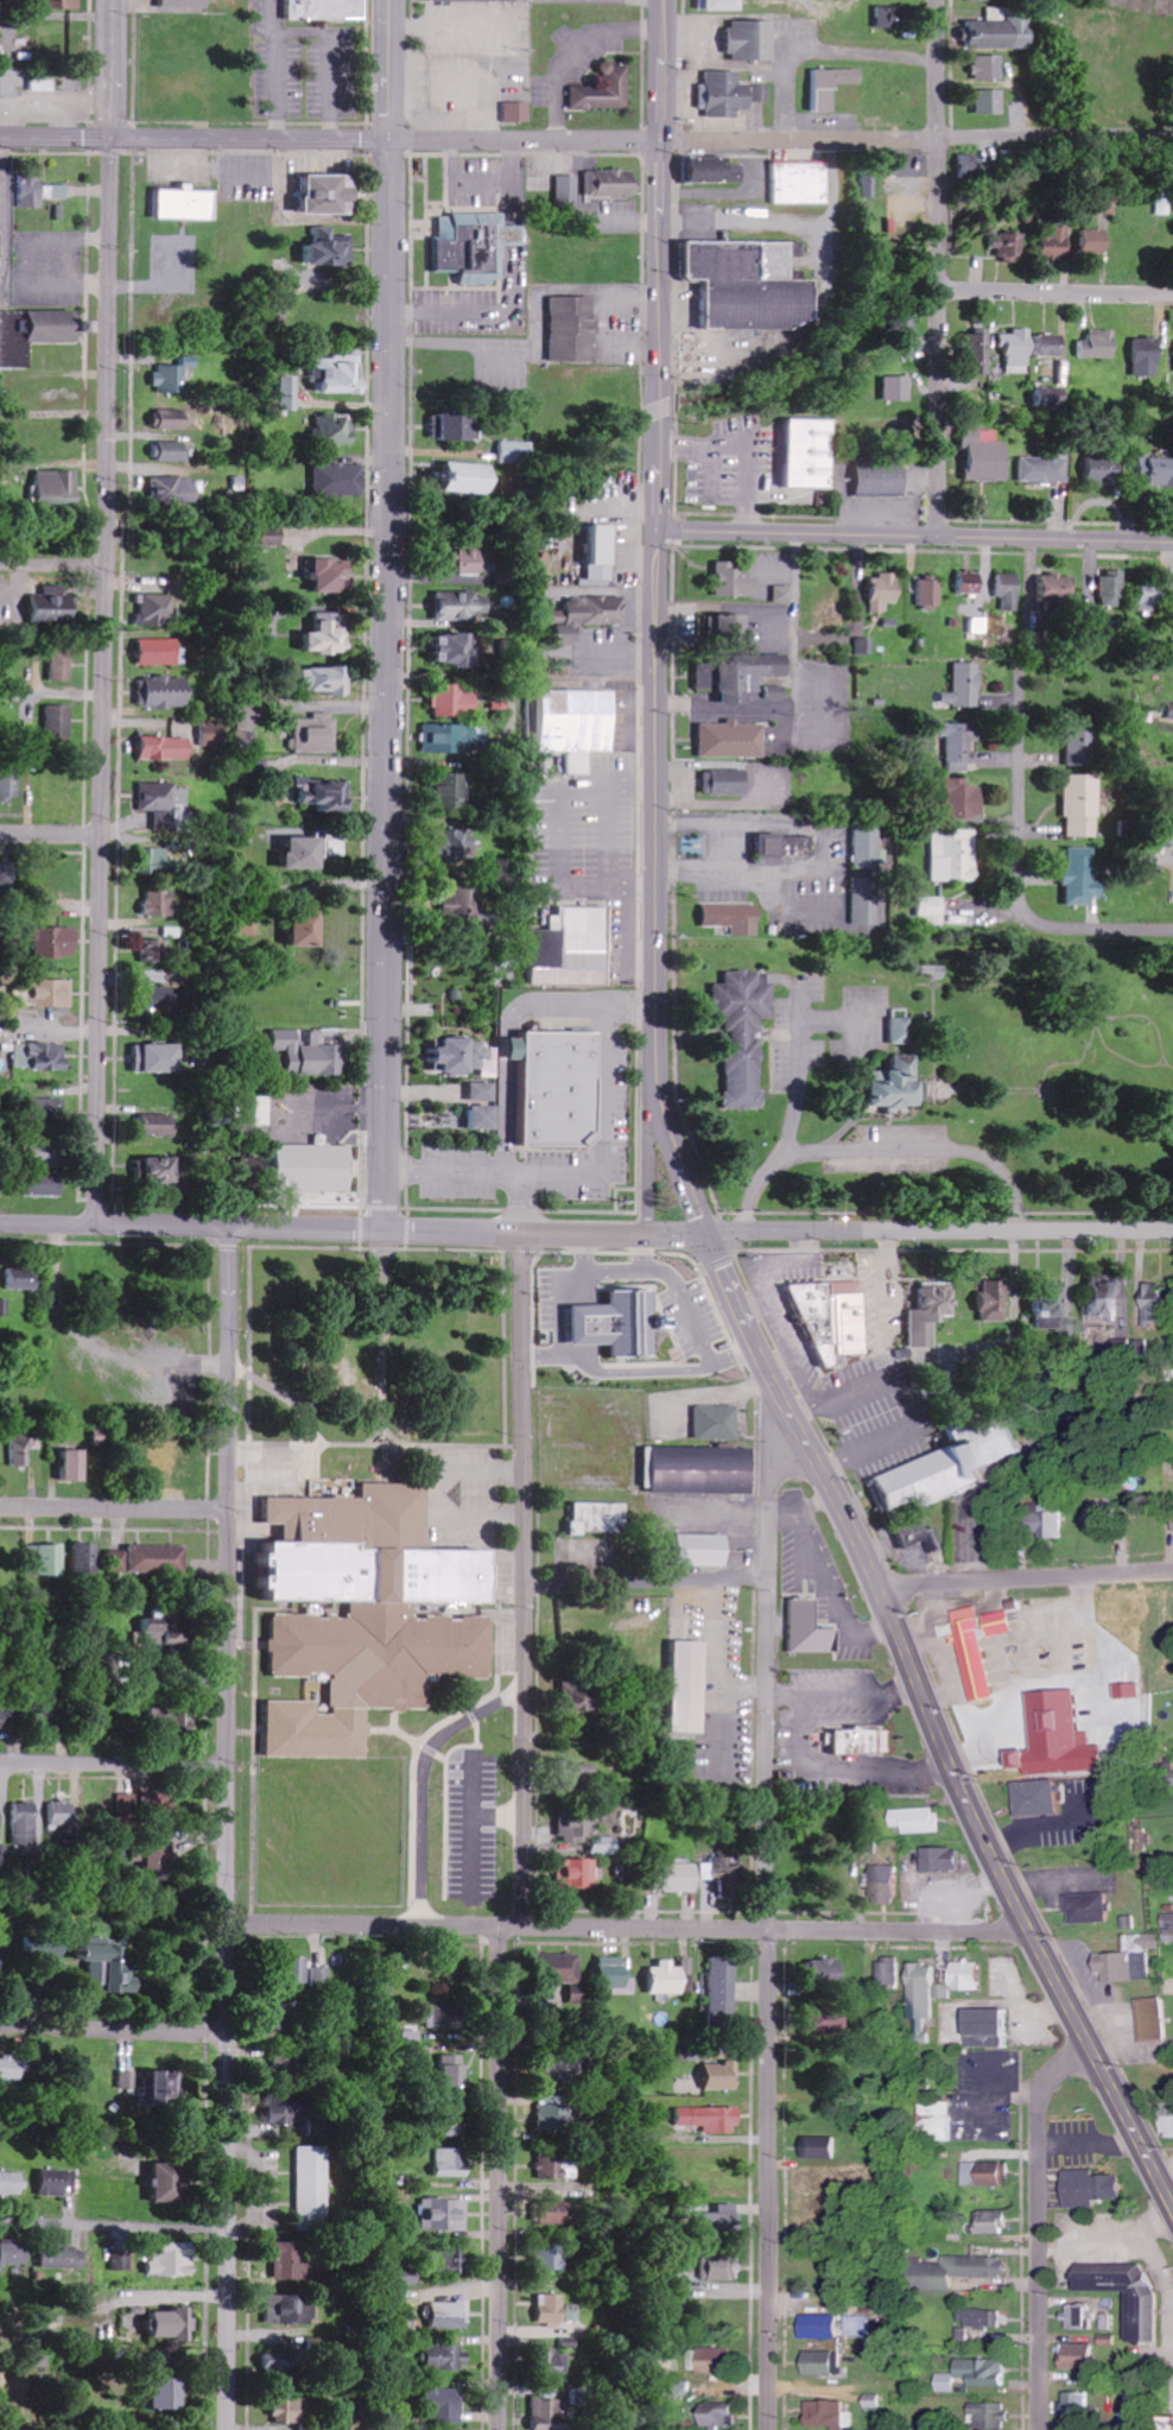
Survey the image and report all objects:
building: (476, 0)
building: (185, 4)
building: (63, 5)
building: (722, 5)
building: (326, 10)
building: (893, 18)
building: (1002, 30)
building: (753, 40)
road: (109, 68)
building: (988, 68)
road: (395, 70)
building: (831, 87)
building: (605, 90)
building: (731, 94)
building: (990, 102)
building: (519, 112)
road: (196, 139)
road: (919, 139)
road: (528, 141)
building: (965, 166)
building: (716, 170)
building: (611, 184)
building: (800, 184)
building: (868, 186)
building: (36, 192)
building: (568, 192)
building: (331, 195)
building: (185, 204)
building: (1105, 204)
building: (1054, 241)
building: (1093, 241)
building: (1008, 245)
building: (470, 247)
building: (330, 249)
road: (938, 267)
building: (750, 285)
road: (1057, 303)
building: (903, 324)
road: (104, 327)
building: (573, 329)
building: (1099, 344)
building: (1052, 346)
building: (1017, 349)
building: (981, 354)
building: (1148, 357)
building: (173, 376)
building: (898, 388)
building: (170, 419)
building: (459, 426)
building: (335, 430)
building: (169, 451)
building: (514, 453)
building: (811, 454)
building: (985, 457)
building: (1104, 468)
building: (1045, 470)
building: (1156, 470)
building: (469, 479)
building: (882, 479)
building: (338, 481)
building: (237, 485)
building: (57, 487)
building: (176, 491)
road: (104, 526)
road: (915, 533)
building: (603, 553)
building: (465, 562)
road: (52, 564)
building: (330, 577)
building: (736, 582)
building: (971, 583)
building: (1058, 588)
building: (1114, 589)
building: (1010, 591)
building: (884, 593)
building: (930, 593)
building: (784, 594)
building: (1154, 596)
building: (464, 606)
building: (52, 608)
building: (153, 612)
building: (588, 616)
building: (13, 627)
building: (724, 628)
building: (328, 637)
building: (458, 651)
building: (159, 652)
building: (61, 664)
building: (738, 676)
building: (325, 681)
road: (387, 685)
building: (965, 688)
building: (167, 692)
building: (778, 692)
building: (455, 702)
road: (658, 704)
building: (1171, 710)
building: (59, 721)
building: (577, 724)
building: (316, 735)
building: (461, 740)
building: (733, 741)
building: (958, 745)
building: (1080, 746)
building: (166, 749)
building: (725, 783)
building: (9, 787)
building: (452, 792)
building: (324, 796)
building: (962, 799)
building: (167, 804)
building: (1082, 806)
road: (47, 833)
building: (787, 846)
building: (458, 847)
building: (305, 854)
building: (955, 856)
building: (164, 861)
road: (1020, 869)
building: (867, 877)
building: (1082, 878)
building: (6, 880)
road: (95, 880)
building: (159, 904)
building: (462, 904)
building: (932, 910)
building: (734, 918)
building: (307, 930)
building: (55, 942)
building: (573, 949)
building: (157, 953)
building: (53, 994)
building: (163, 1000)
building: (901, 1031)
building: (744, 1034)
building: (307, 1053)
building: (464, 1055)
building: (40, 1057)
building: (159, 1059)
building: (896, 1083)
building: (558, 1087)
building: (486, 1091)
building: (45, 1110)
building: (486, 1116)
building: (158, 1126)
building: (45, 1156)
building: (315, 1167)
building: (158, 1169)
building: (46, 1185)
road: (192, 1228)
road: (939, 1230)
traffic signals: (706, 1233)
road: (545, 1234)
building: (23, 1279)
building: (1108, 1297)
building: (994, 1298)
building: (1159, 1303)
building: (1050, 1309)
building: (930, 1312)
building: (620, 1323)
building: (841, 1324)
building: (716, 1422)
building: (21, 1451)
building: (953, 1462)
building: (76, 1466)
building: (703, 1470)
road: (116, 1510)
building: (598, 1518)
building: (1105, 1518)
building: (1055, 1523)
building: (917, 1533)
building: (703, 1550)
building: (87, 1558)
building: (158, 1558)
building: (45, 1559)
building: (118, 1561)
road: (525, 1580)
road: (1026, 1580)
road: (646, 1581)
building: (425, 1608)
building: (369, 1613)
building: (810, 1628)
building: (952, 1632)
building: (169, 1633)
building: (983, 1647)
building: (690, 1687)
building: (577, 1696)
building: (47, 1714)
building: (2, 1716)
building: (165, 1719)
building: (866, 1740)
building: (1065, 1760)
road: (114, 1761)
building: (583, 1774)
building: (1042, 1797)
building: (158, 1801)
road: (965, 1803)
building: (0, 1806)
building: (61, 1812)
building: (922, 1820)
building: (23, 1823)
building: (576, 1825)
road: (229, 1829)
building: (946, 1860)
building: (632, 1872)
building: (578, 1873)
building: (681, 1877)
building: (889, 1882)
road: (766, 1907)
building: (1093, 1909)
building: (1168, 1925)
road: (627, 1926)
building: (46, 1948)
building: (1133, 1958)
building: (110, 1966)
building: (299, 1970)
building: (562, 1972)
building: (826, 1972)
building: (890, 1973)
building: (616, 1975)
building: (972, 1975)
building: (318, 1976)
building: (670, 1977)
building: (925, 1991)
building: (723, 1994)
building: (286, 2018)
building: (1155, 2019)
building: (829, 2023)
road: (114, 2026)
building: (993, 2027)
building: (286, 2064)
building: (14, 2070)
building: (454, 2073)
building: (721, 2076)
building: (562, 2078)
building: (154, 2086)
building: (552, 2115)
building: (289, 2118)
building: (710, 2119)
building: (941, 2120)
building: (1171, 2125)
building: (455, 2131)
building: (823, 2147)
building: (451, 2163)
building: (553, 2166)
building: (989, 2173)
road: (499, 2177)
building: (13, 2182)
building: (56, 2183)
building: (163, 2183)
building: (312, 2188)
building: (1095, 2188)
road: (1172, 2206)
building: (446, 2216)
building: (723, 2220)
building: (996, 2222)
road: (114, 2225)
road: (1038, 2227)
building: (13, 2254)
building: (554, 2258)
building: (64, 2259)
building: (171, 2260)
building: (289, 2260)
building: (450, 2260)
building: (121, 2263)
building: (723, 2267)
building: (966, 2271)
building: (408, 2278)
building: (290, 2310)
building: (552, 2310)
building: (450, 2315)
building: (1146, 2316)
building: (982, 2317)
building: (1083, 2317)
building: (172, 2324)
building: (828, 2327)
building: (564, 2355)
building: (1085, 2356)
building: (446, 2359)
building: (715, 2359)
building: (829, 2363)
building: (978, 2374)
building: (167, 2394)
building: (876, 2401)
building: (444, 2405)
building: (1080, 2407)
building: (549, 2410)
building: (290, 2411)
building: (831, 2412)
building: (724, 2415)
building: (993, 2415)

